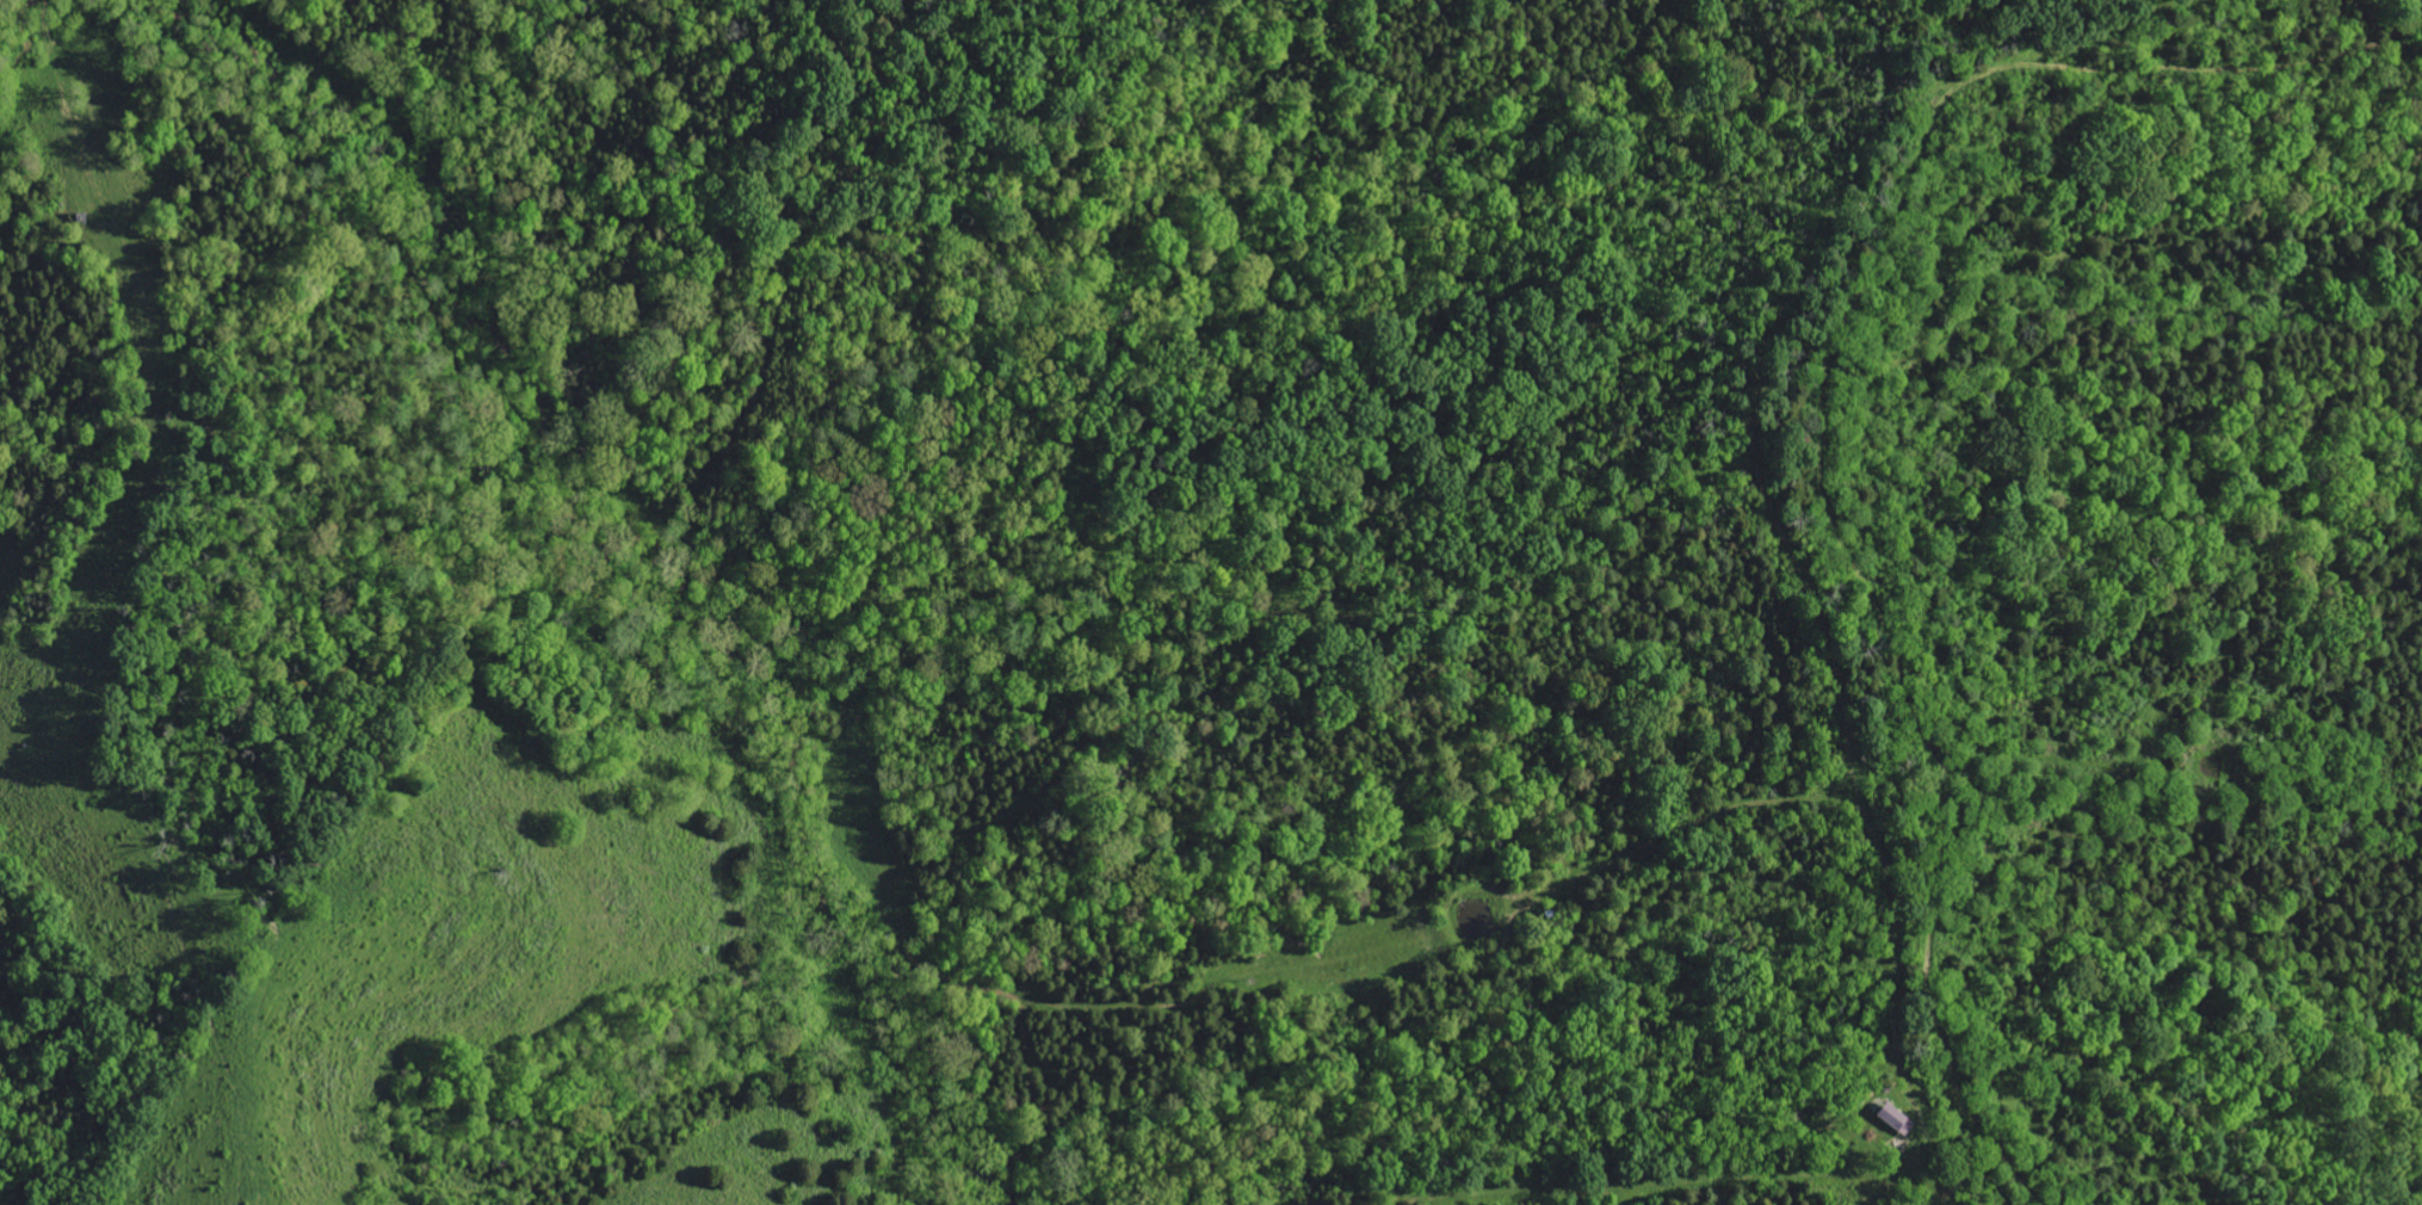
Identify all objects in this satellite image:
building: (1904, 1120)

